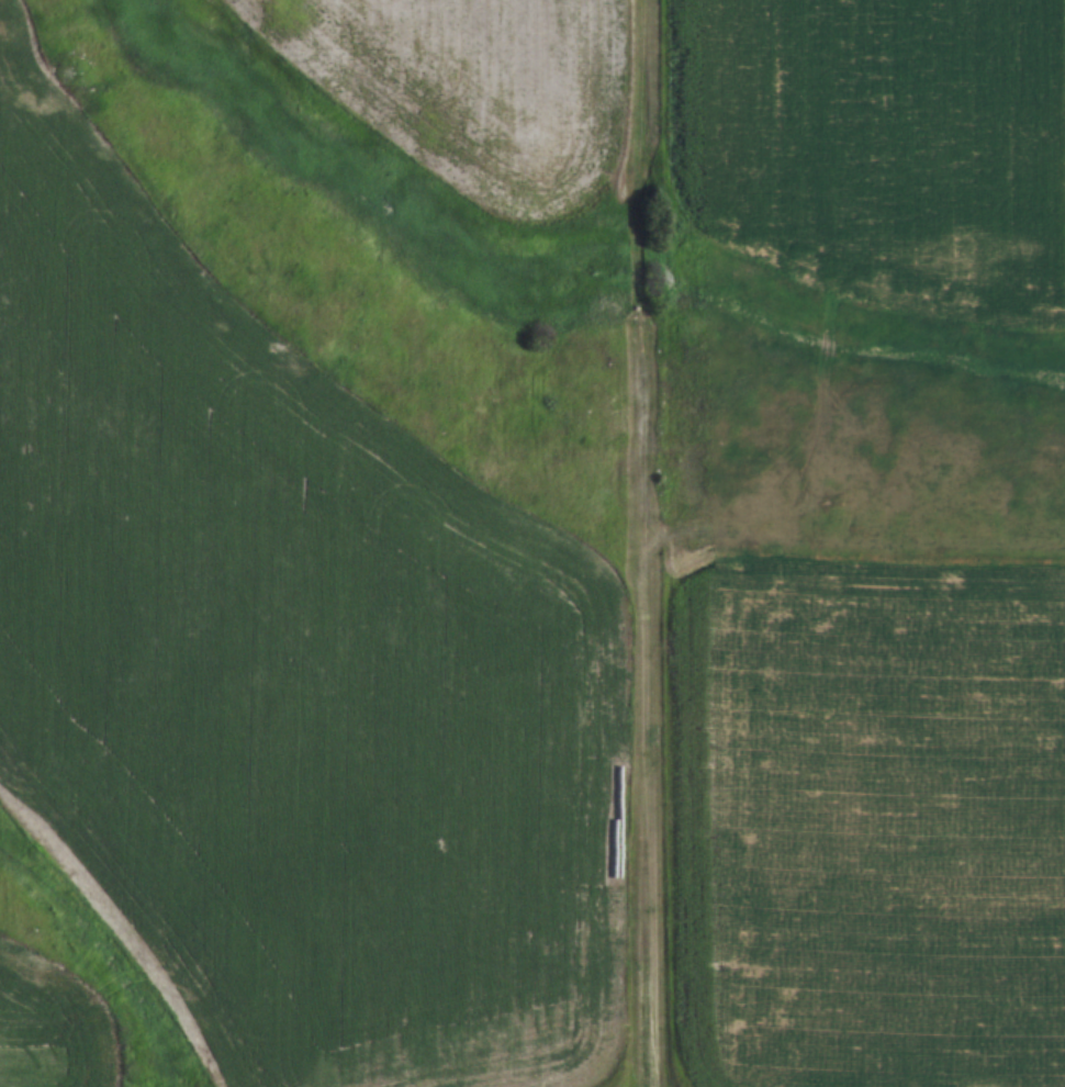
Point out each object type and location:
road: (654, 542)

